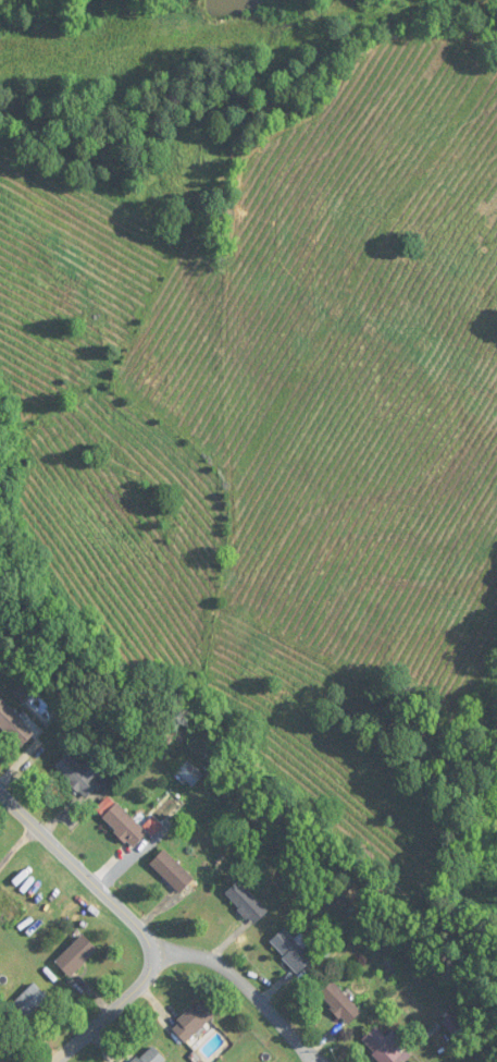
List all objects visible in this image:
building: (14, 725)
building: (79, 773)
building: (190, 773)
building: (125, 826)
building: (172, 871)
road: (85, 875)
building: (247, 903)
building: (291, 951)
building: (76, 955)
road: (249, 997)
building: (340, 1002)
building: (26, 1004)
road: (119, 1008)
building: (194, 1021)
building: (381, 1046)
building: (151, 1057)

